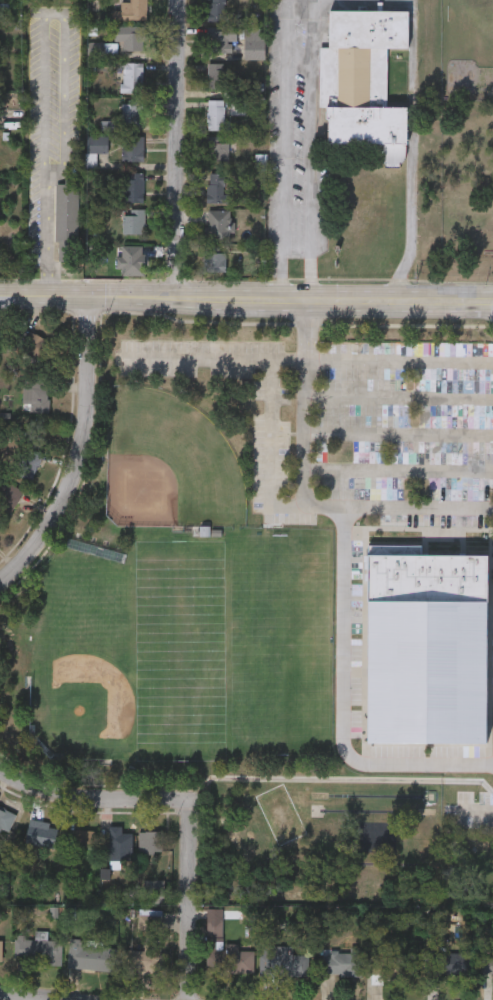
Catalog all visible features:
road: (412, 5)
building: (131, 9)
building: (217, 10)
building: (130, 35)
building: (220, 39)
building: (253, 42)
road: (45, 61)
building: (218, 74)
building: (132, 75)
building: (362, 78)
building: (130, 112)
building: (216, 113)
building: (94, 145)
building: (132, 145)
building: (218, 148)
road: (175, 150)
road: (283, 150)
road: (311, 150)
road: (411, 156)
building: (133, 185)
building: (217, 186)
building: (66, 218)
building: (133, 219)
building: (218, 224)
building: (214, 257)
building: (131, 259)
road: (246, 301)
building: (35, 345)
road: (225, 358)
road: (399, 359)
building: (35, 393)
parking lot: (358, 423)
building: (435, 429)
building: (436, 450)
road: (72, 451)
building: (28, 461)
park: (169, 465)
building: (477, 475)
road: (305, 496)
building: (8, 498)
building: (205, 532)
building: (424, 648)
road: (351, 700)
road: (336, 780)
road: (91, 796)
road: (462, 797)
road: (477, 812)
building: (6, 818)
building: (40, 833)
building: (81, 840)
building: (151, 841)
building: (116, 844)
road: (188, 900)
building: (214, 928)
building: (37, 948)
building: (1, 949)
building: (91, 955)
building: (143, 958)
building: (229, 959)
building: (282, 960)
building: (342, 961)
building: (392, 962)
building: (444, 962)
building: (486, 963)
road: (35, 995)

